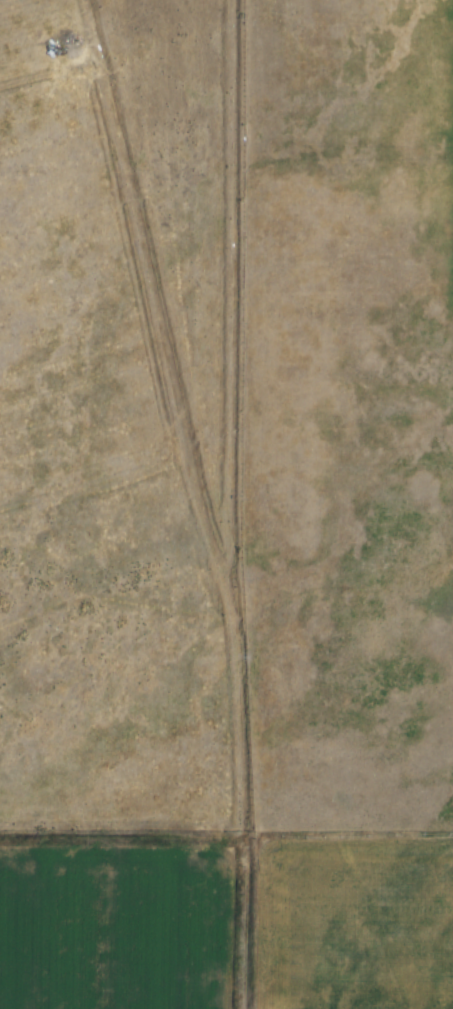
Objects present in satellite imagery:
crop: (422, 101)
crop: (137, 924)

